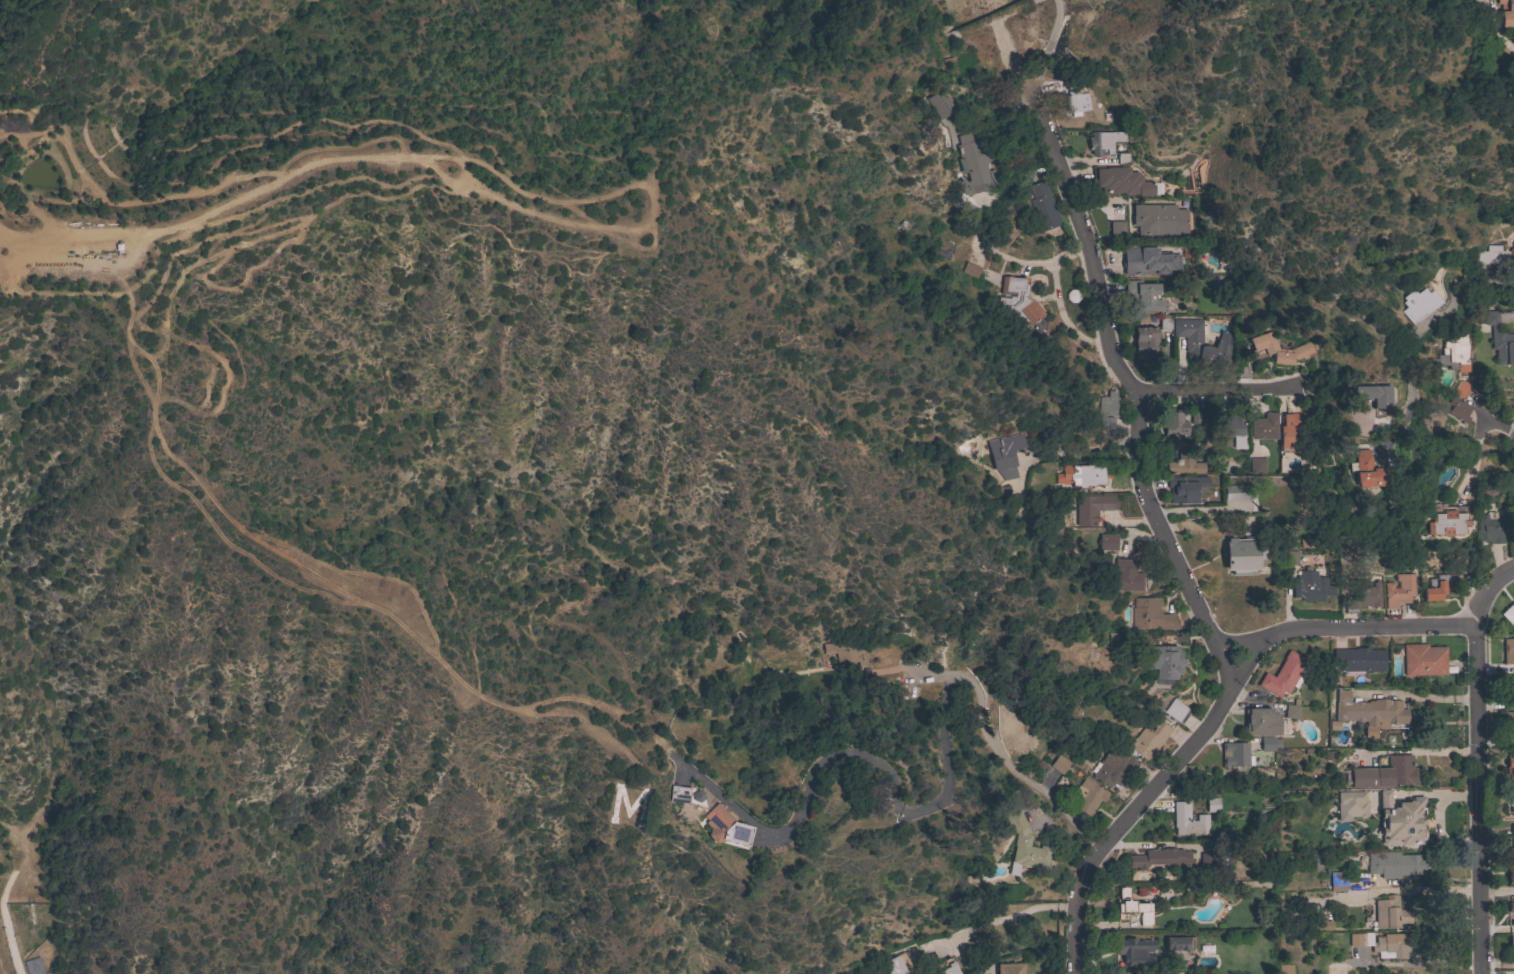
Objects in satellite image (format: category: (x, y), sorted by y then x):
building: (1507, 13)
road: (1512, 38)
road: (1045, 52)
building: (1074, 100)
building: (940, 104)
building: (1104, 142)
building: (1123, 158)
building: (976, 164)
building: (1120, 180)
building: (1043, 206)
road: (526, 211)
road: (576, 213)
building: (1159, 220)
building: (978, 226)
building: (1116, 228)
road: (66, 234)
building: (1497, 255)
road: (14, 256)
building: (1150, 261)
building: (970, 269)
building: (1142, 295)
building: (1015, 302)
building: (1418, 304)
building: (1165, 322)
road: (1423, 331)
building: (1499, 339)
building: (1193, 341)
building: (1144, 342)
building: (1263, 345)
building: (1455, 353)
building: (1461, 388)
road: (1215, 392)
building: (1372, 394)
building: (1107, 409)
building: (1458, 409)
building: (1175, 423)
building: (1264, 426)
building: (1232, 431)
building: (1291, 432)
road: (1509, 435)
road: (1501, 437)
building: (1005, 454)
road: (1087, 454)
building: (1182, 458)
building: (1256, 465)
building: (1363, 469)
building: (1082, 475)
building: (1185, 488)
building: (1238, 491)
building: (1092, 507)
building: (1512, 509)
building: (1446, 523)
building: (1491, 529)
building: (1106, 541)
building: (1242, 555)
building: (1290, 558)
road: (1181, 562)
building: (1126, 576)
road: (299, 584)
building: (1438, 586)
building: (1310, 589)
building: (1397, 591)
building: (1363, 594)
building: (1509, 614)
building: (1151, 615)
road: (1376, 627)
road: (1239, 636)
building: (1508, 650)
building: (1361, 659)
building: (1423, 659)
building: (1163, 660)
building: (1284, 675)
building: (1509, 692)
building: (1292, 709)
building: (1176, 710)
building: (1369, 712)
building: (1260, 722)
building: (1508, 723)
building: (1148, 740)
building: (1266, 743)
building: (1235, 754)
building: (1510, 762)
building: (1059, 764)
building: (1114, 767)
building: (1384, 773)
building: (678, 793)
building: (1086, 796)
building: (1511, 798)
road: (1479, 800)
building: (1212, 804)
building: (1351, 805)
road: (925, 811)
building: (1180, 817)
building: (1401, 820)
building: (724, 827)
building: (1258, 831)
building: (1511, 842)
building: (1024, 845)
building: (1160, 858)
building: (1206, 859)
building: (1394, 864)
building: (1510, 872)
building: (1337, 880)
building: (1132, 908)
building: (1511, 911)
building: (1390, 913)
road: (1002, 917)
building: (1320, 923)
building: (1176, 943)
building: (1388, 943)
building: (1510, 943)
building: (1135, 951)
building: (896, 964)
building: (945, 967)
building: (1010, 968)
building: (1285, 969)
building: (1334, 971)

